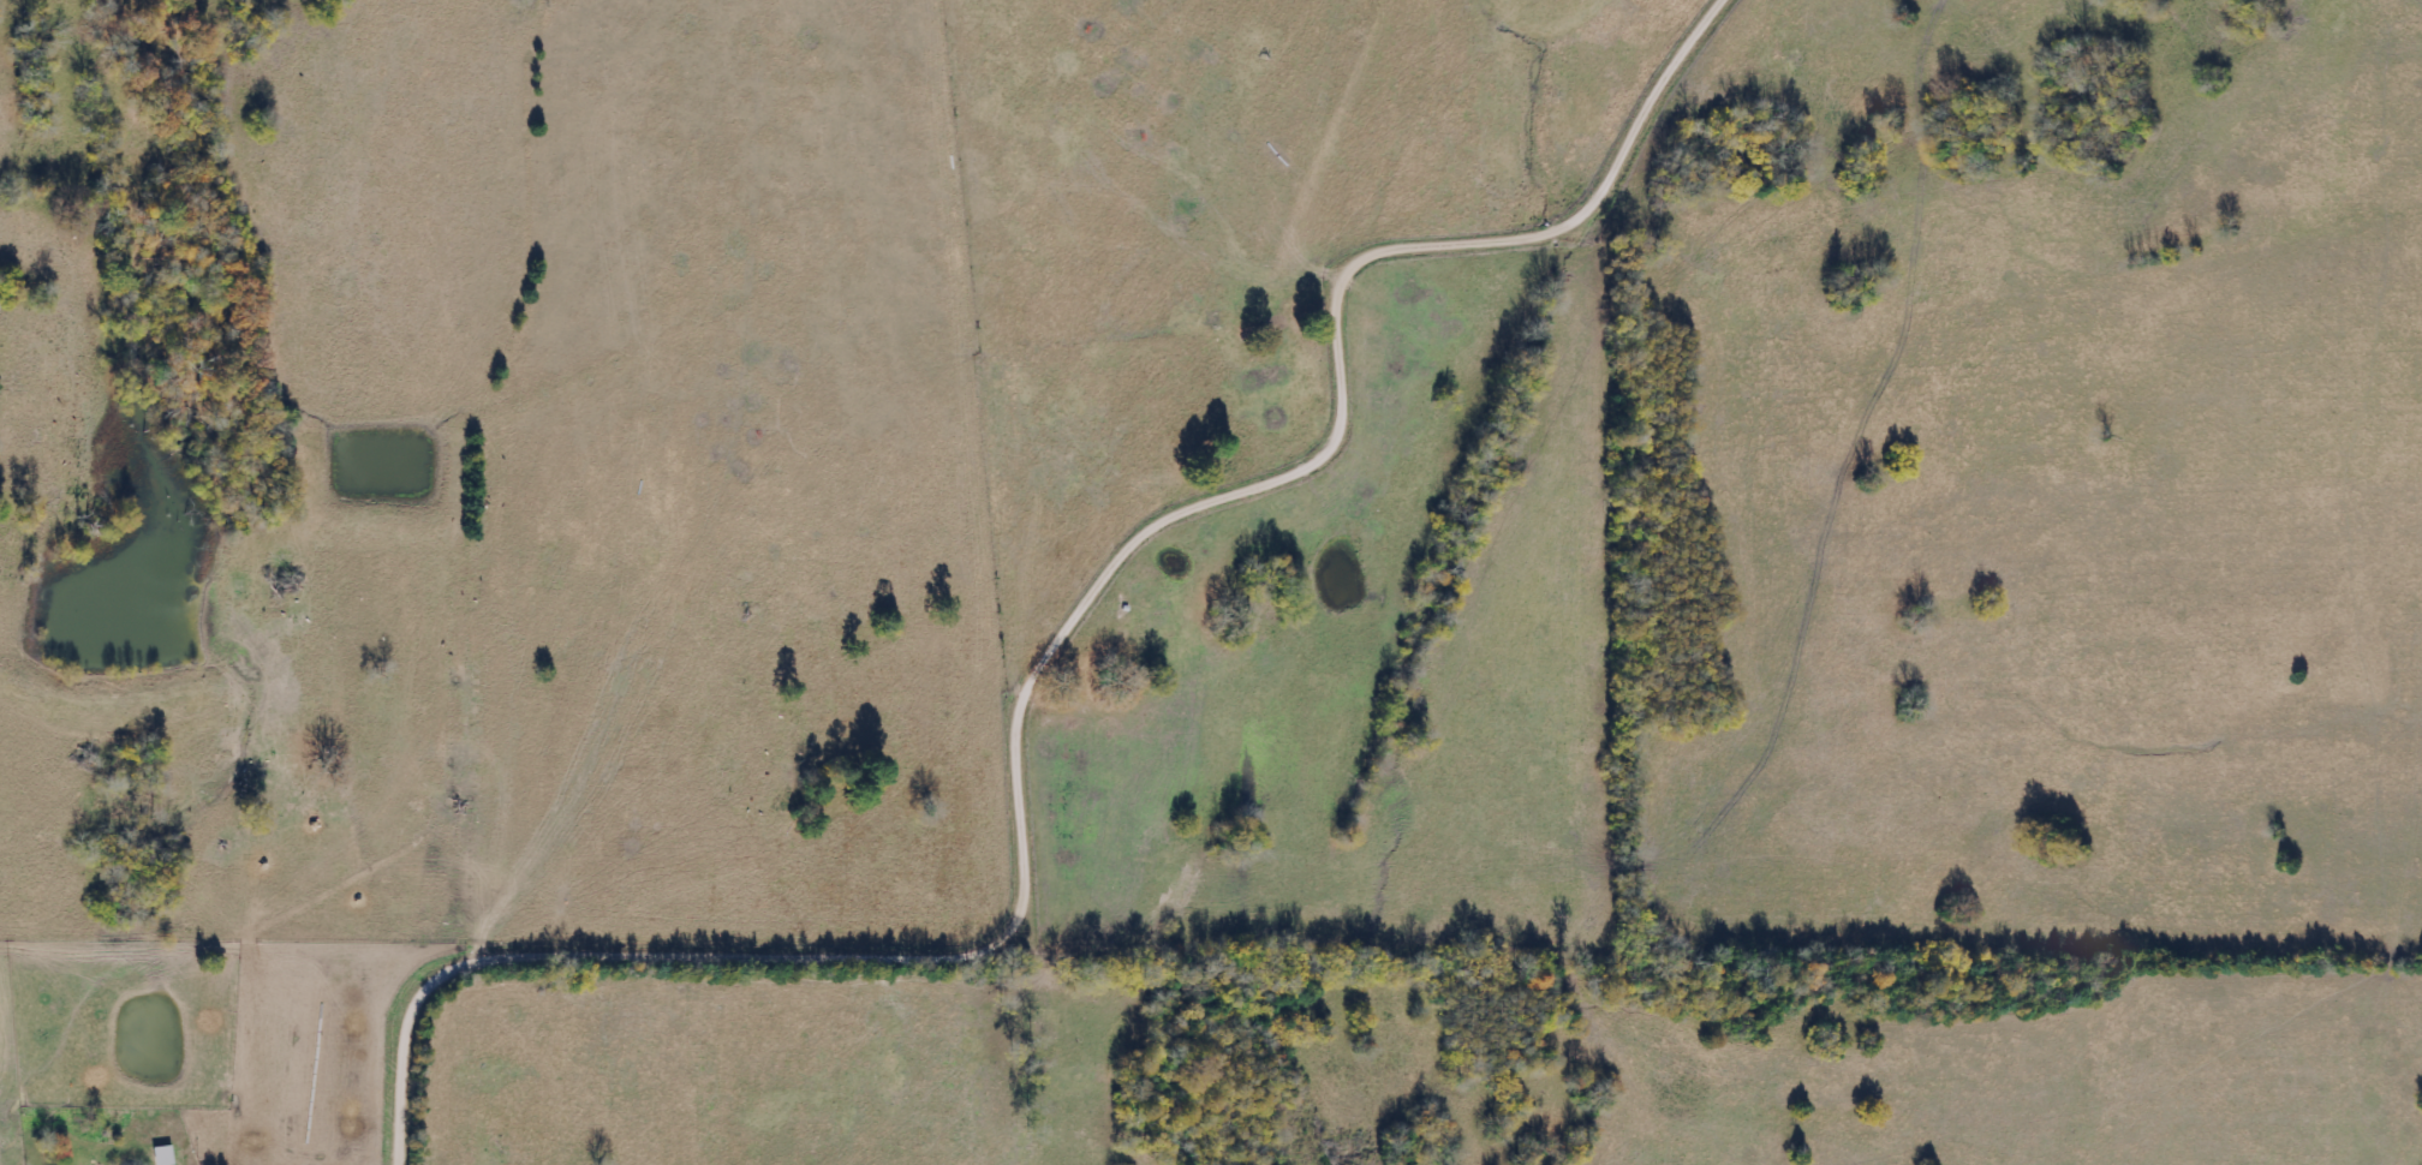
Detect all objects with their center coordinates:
road: (1050, 662)

